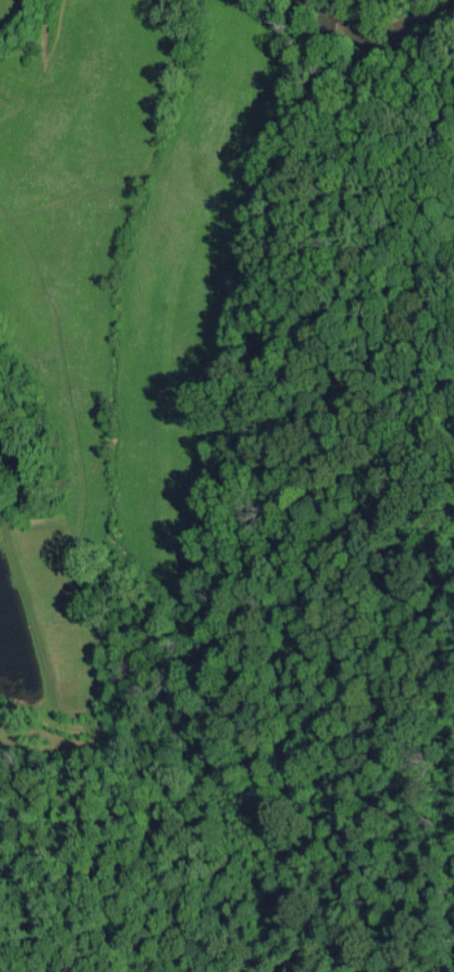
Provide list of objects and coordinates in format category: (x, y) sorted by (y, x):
river: (376, 33)

